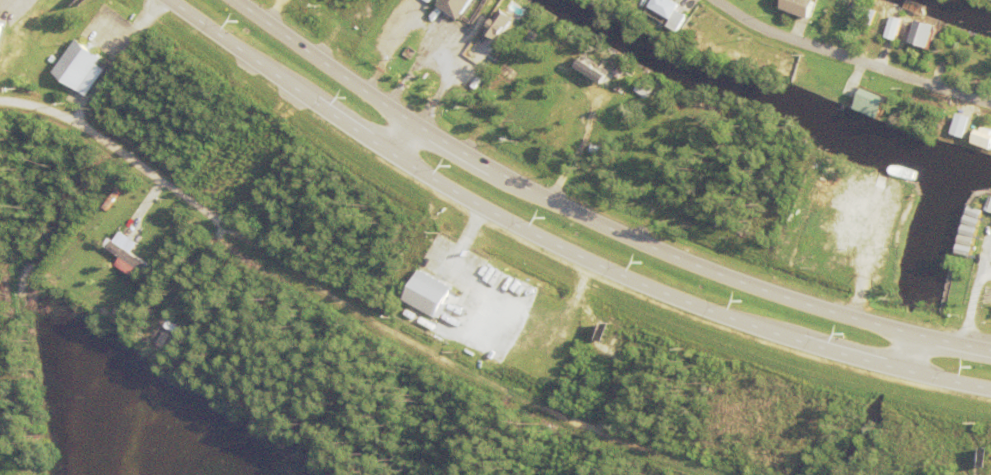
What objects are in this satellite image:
building: (796, 2)
building: (0, 3)
building: (452, 7)
building: (660, 15)
building: (846, 16)
building: (871, 17)
building: (679, 21)
building: (480, 22)
building: (505, 25)
building: (890, 28)
road: (438, 29)
building: (1, 30)
building: (924, 34)
building: (846, 36)
building: (953, 48)
building: (504, 49)
road: (846, 62)
building: (743, 64)
building: (81, 65)
building: (590, 67)
road: (412, 71)
building: (620, 74)
building: (471, 88)
building: (646, 89)
building: (74, 94)
building: (607, 98)
building: (873, 104)
building: (957, 126)
building: (984, 139)
building: (600, 150)
building: (990, 208)
building: (977, 213)
building: (973, 222)
road: (588, 225)
building: (970, 230)
building: (968, 242)
building: (765, 245)
road: (555, 250)
building: (133, 260)
building: (430, 295)
building: (987, 299)
road: (335, 309)
building: (468, 332)

